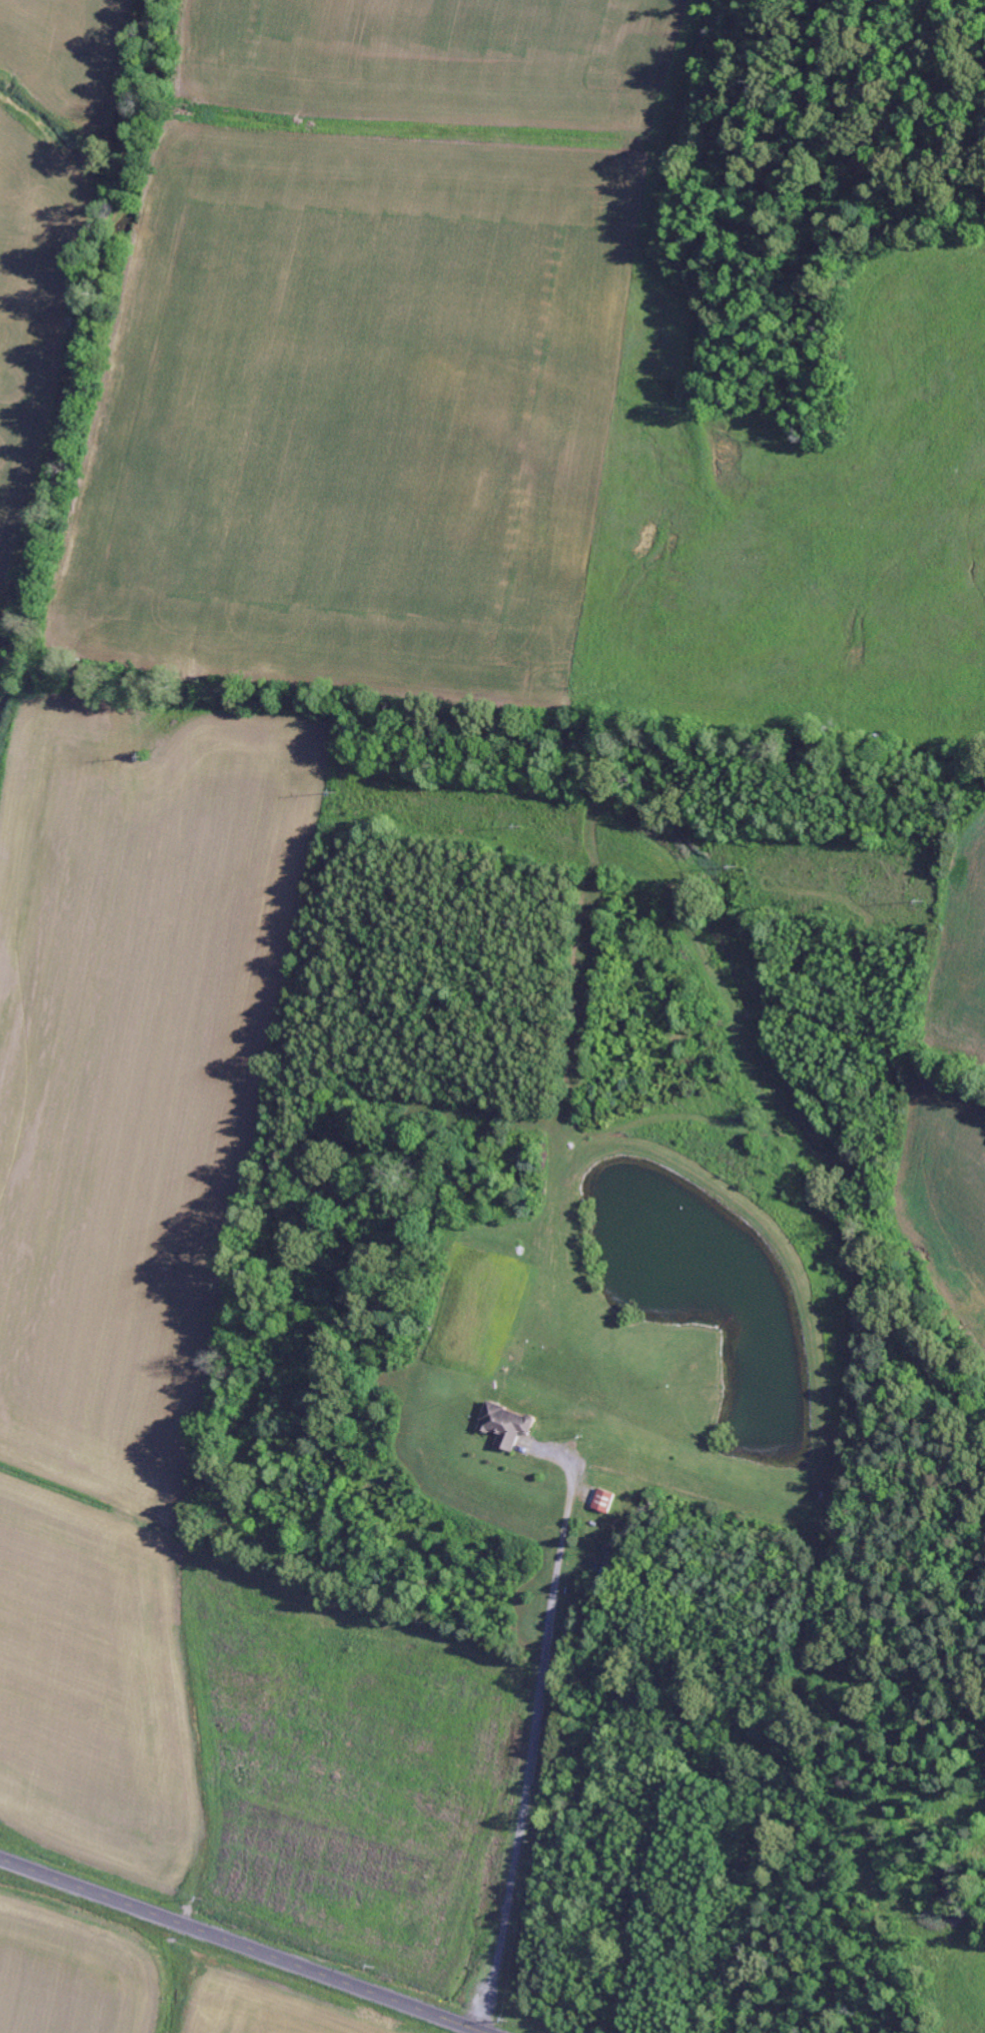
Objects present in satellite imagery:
building: (506, 1425)
building: (604, 1501)
road: (543, 1659)
road: (242, 1945)

